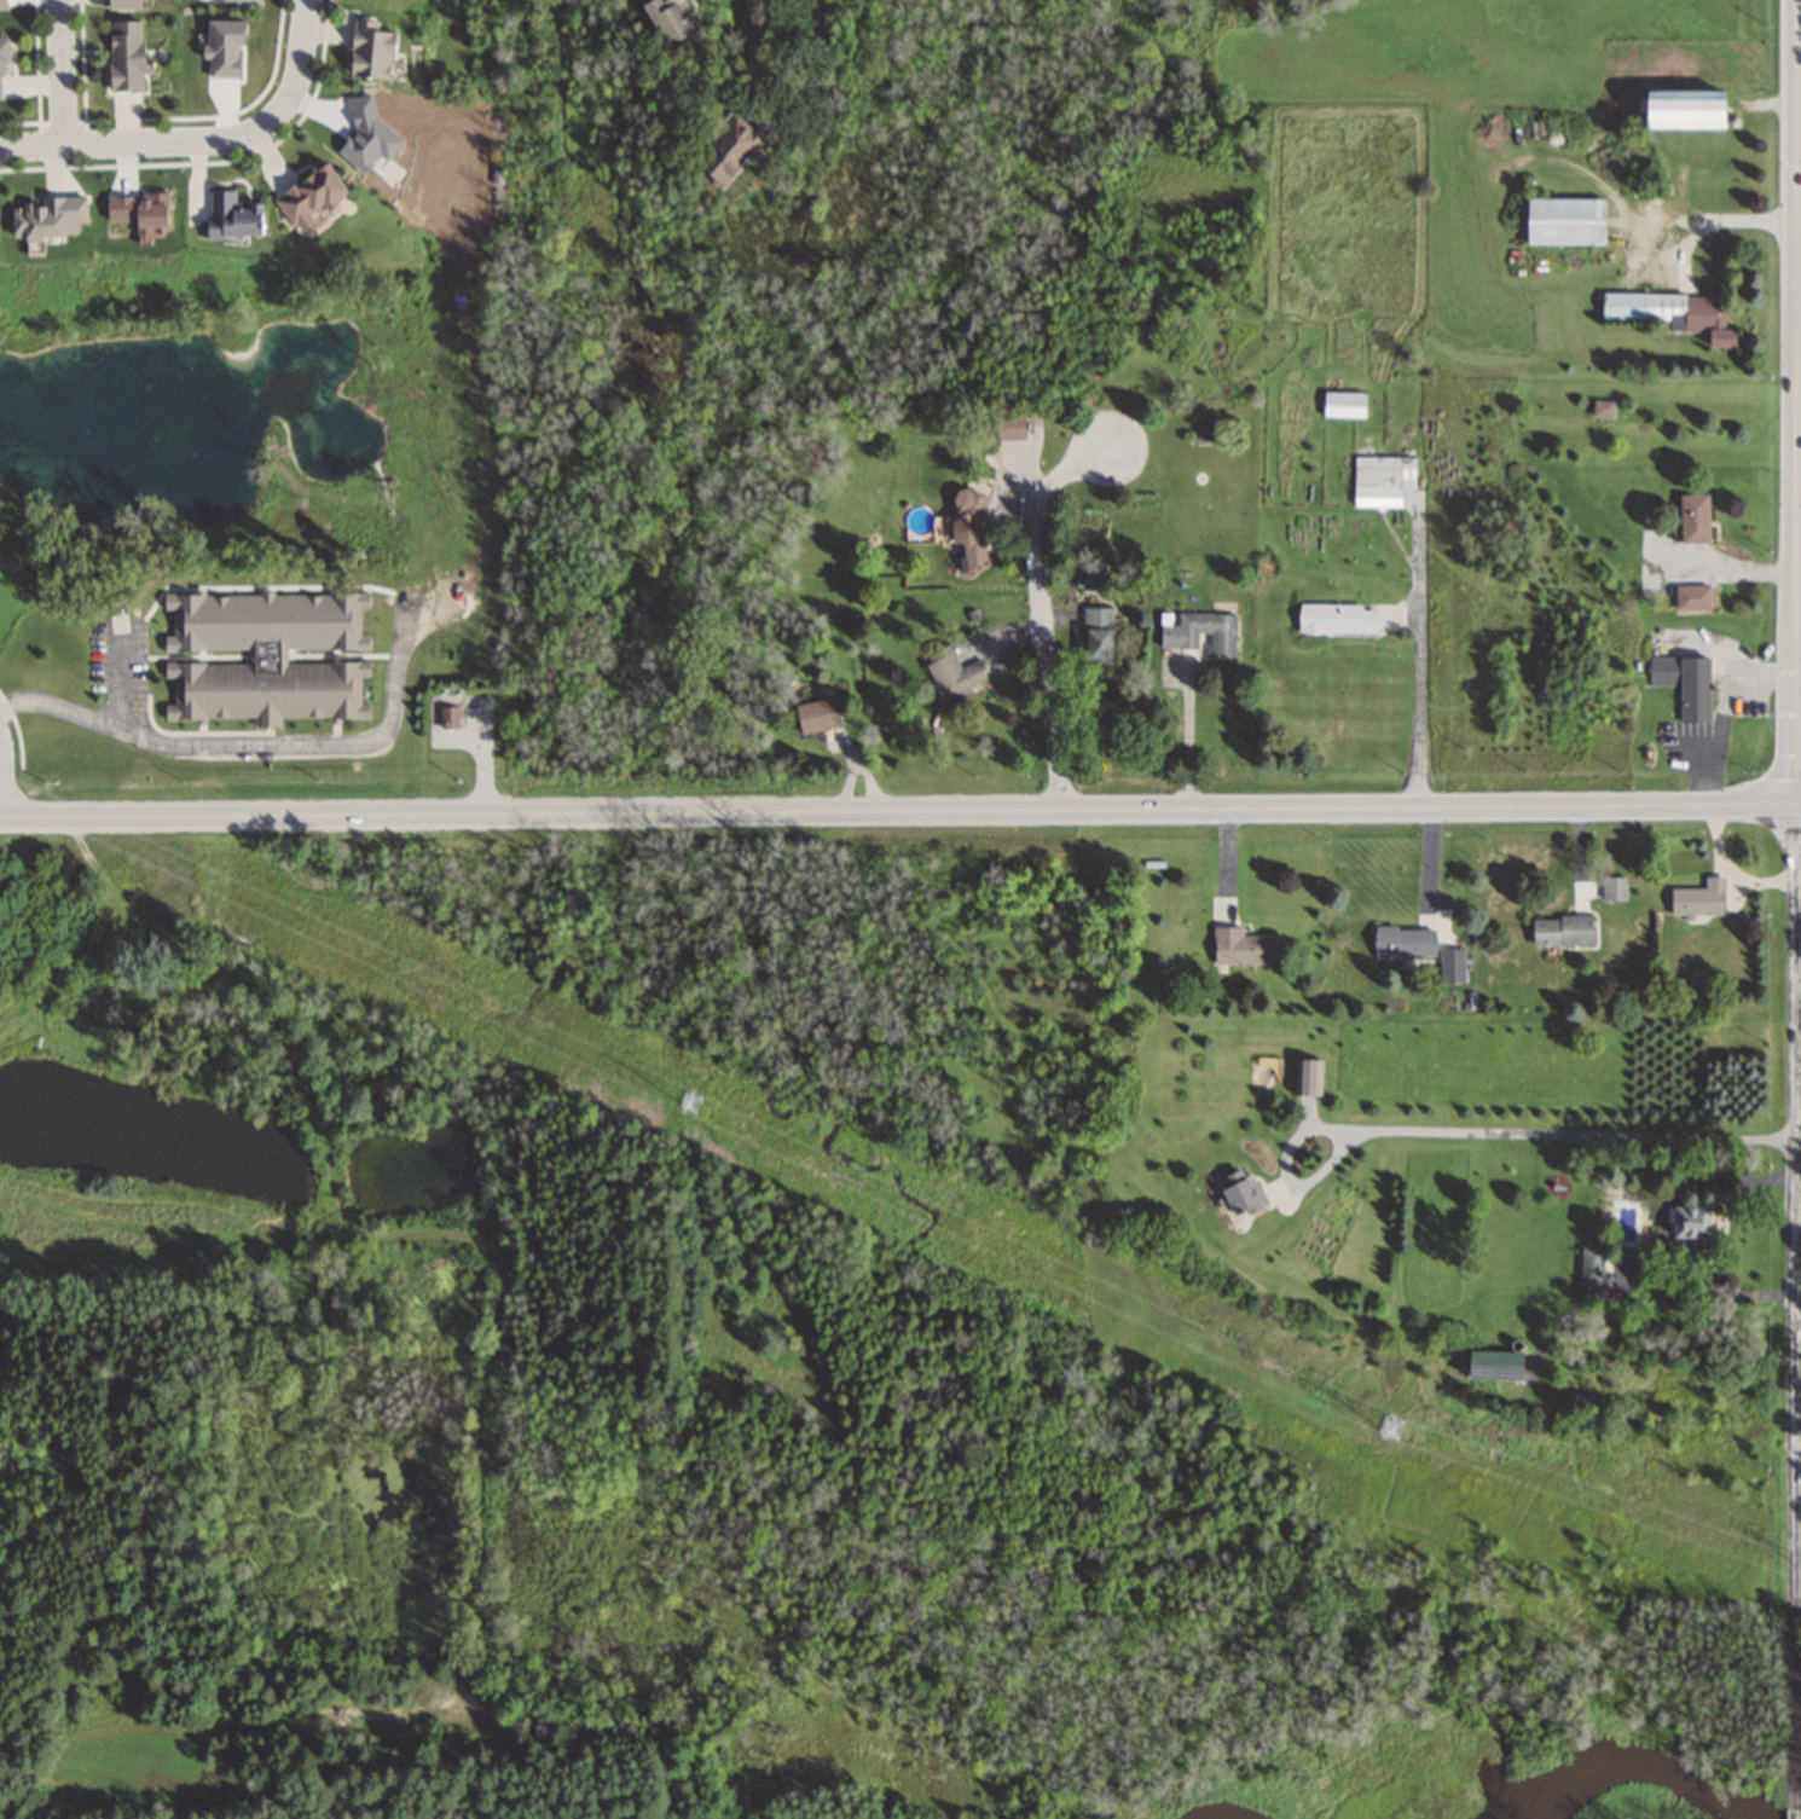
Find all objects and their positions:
building: (230, 0)
building: (128, 2)
building: (668, 19)
building: (367, 50)
building: (123, 54)
building: (1, 56)
road: (62, 73)
building: (1680, 109)
road: (202, 140)
building: (725, 149)
building: (303, 195)
building: (226, 215)
building: (31, 219)
building: (1563, 220)
road: (1795, 279)
road: (1799, 289)
building: (1673, 312)
building: (1342, 404)
building: (1602, 407)
building: (1382, 479)
building: (1692, 517)
building: (1085, 573)
building: (1693, 597)
road: (1042, 609)
building: (1336, 618)
building: (1201, 632)
building: (1096, 635)
building: (952, 674)
road: (122, 682)
road: (1799, 682)
building: (1684, 684)
building: (265, 689)
building: (816, 714)
road: (1188, 736)
road: (184, 742)
road: (1, 781)
road: (1800, 804)
road: (899, 810)
building: (1614, 888)
building: (1698, 899)
building: (1562, 931)
building: (1403, 942)
building: (1240, 946)
building: (1452, 966)
building: (1308, 1078)
power tower: (690, 1100)
road: (1469, 1131)
building: (1238, 1193)
road: (1799, 1210)
building: (1689, 1224)
building: (1588, 1267)
road: (1796, 1311)
building: (1489, 1367)
power tower: (1392, 1426)
river: (1663, 1808)

